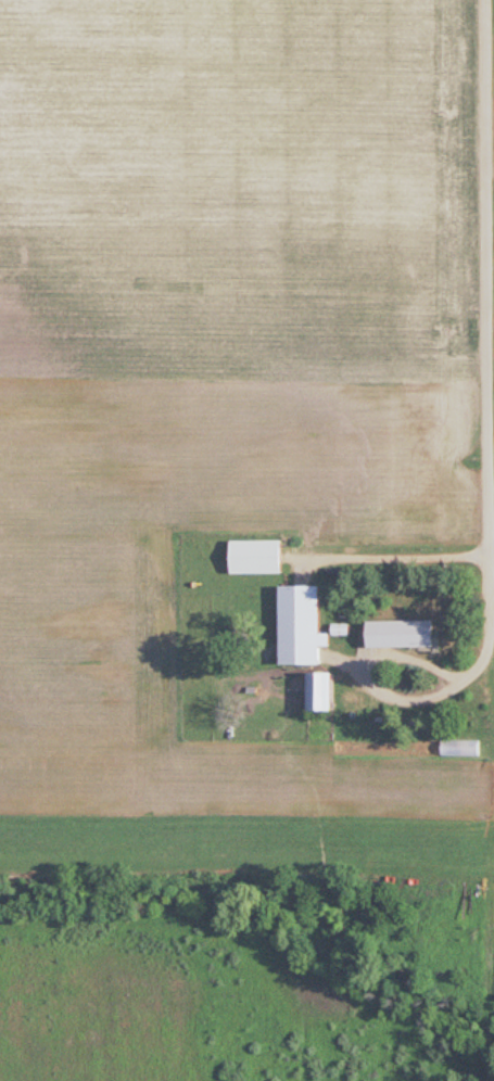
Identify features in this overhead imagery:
road: (486, 296)
road: (384, 557)
building: (300, 623)
building: (400, 632)
building: (318, 689)
road: (406, 696)

